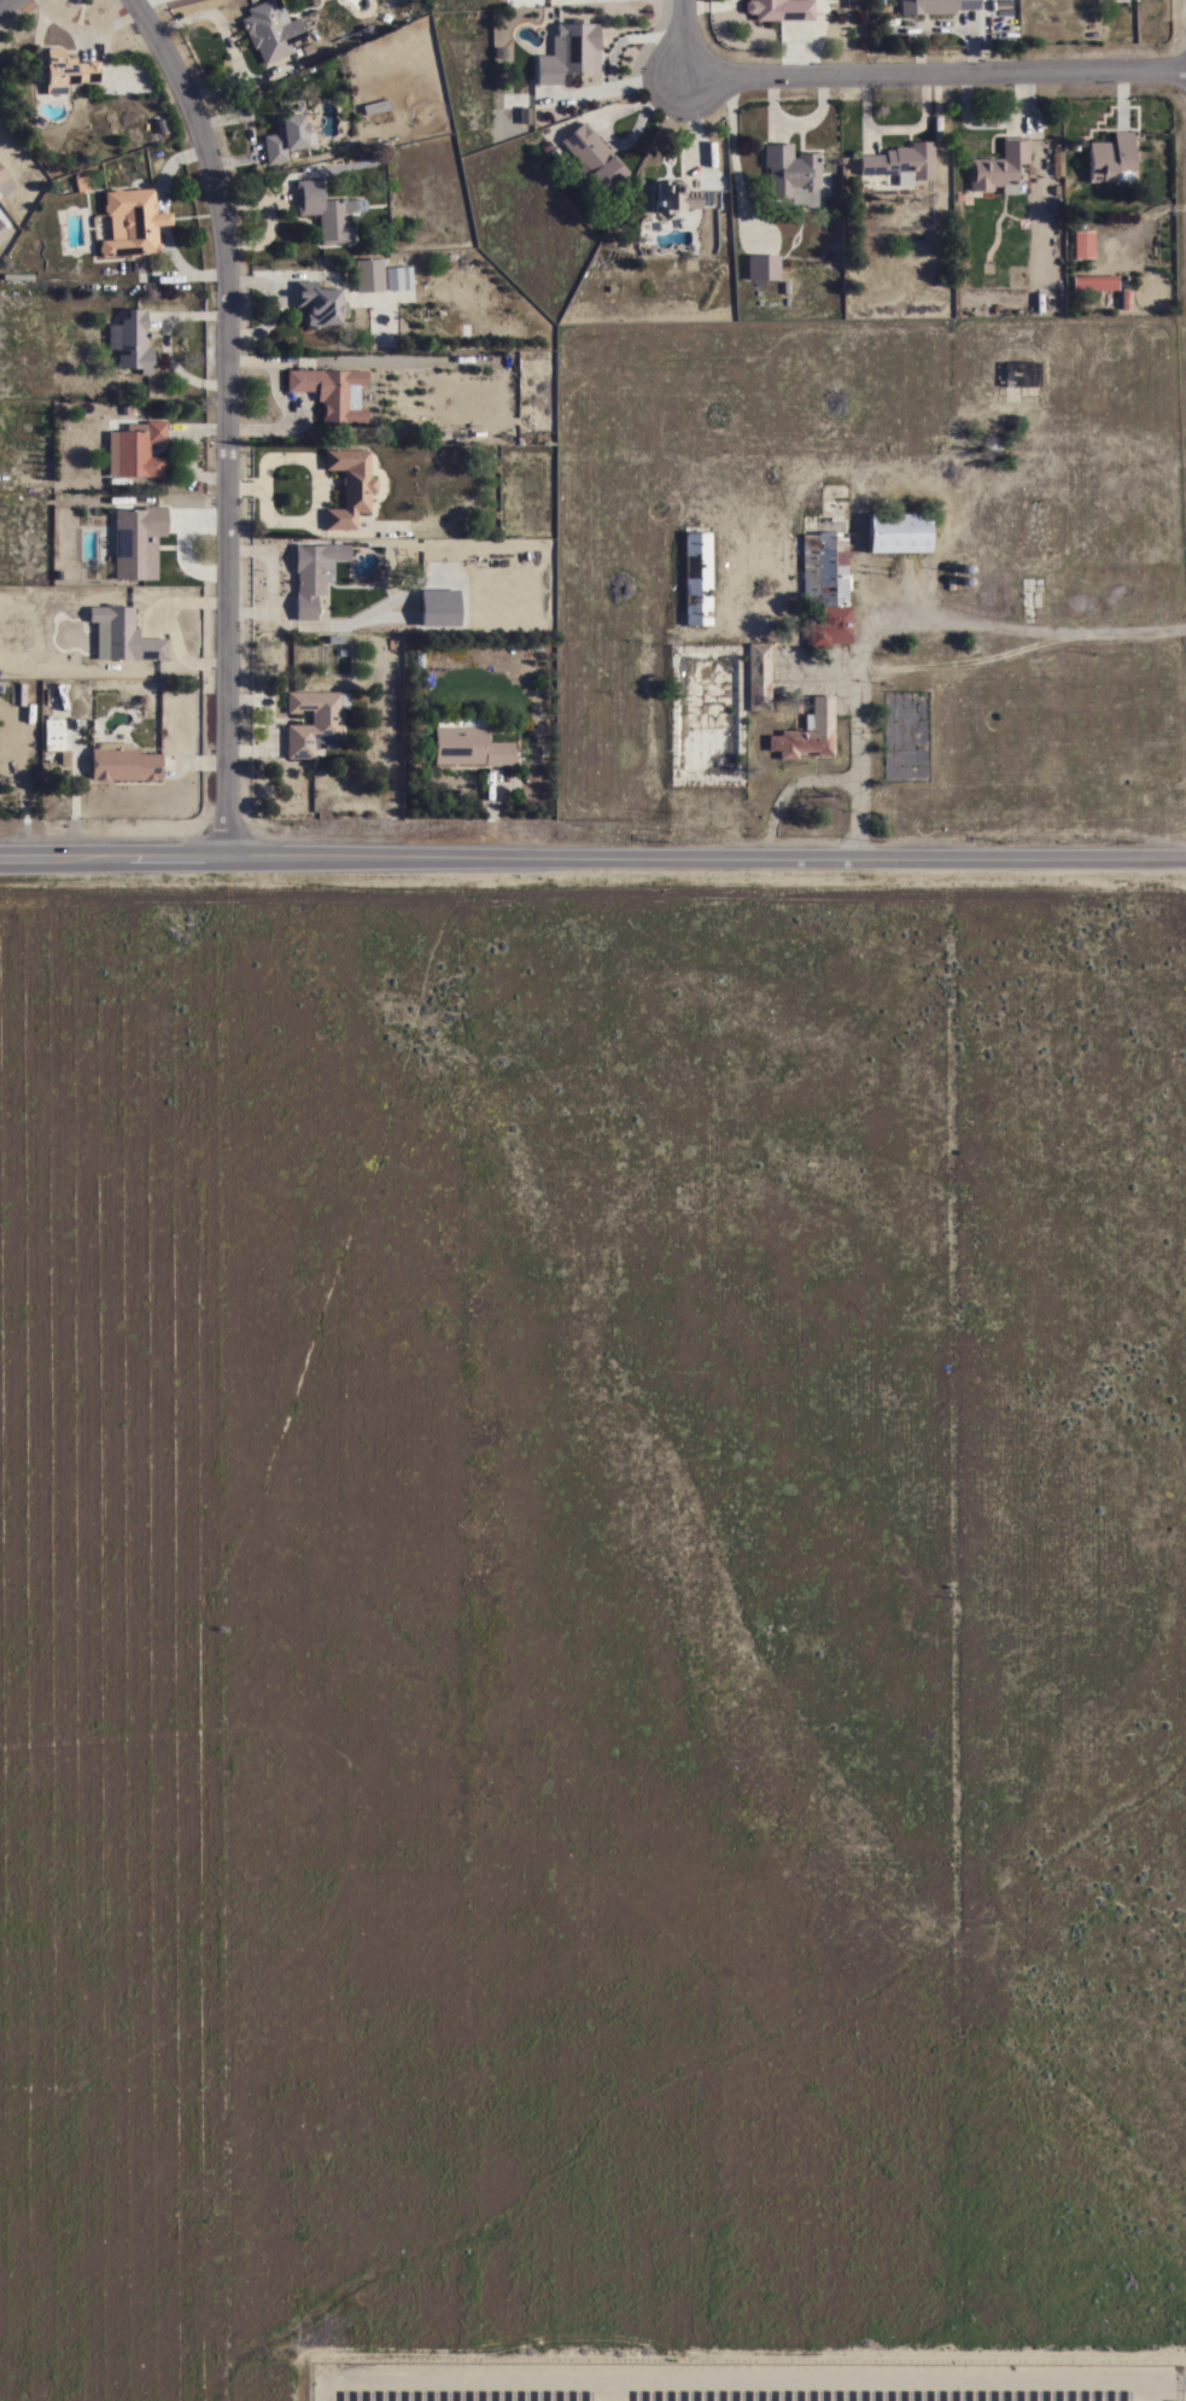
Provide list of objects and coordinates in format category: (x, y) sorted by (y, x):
road: (8, 6)
building: (935, 6)
building: (779, 10)
building: (270, 30)
road: (685, 39)
building: (568, 52)
building: (64, 71)
road: (936, 75)
building: (375, 106)
road: (612, 113)
building: (524, 116)
building: (286, 138)
building: (591, 157)
building: (1110, 158)
building: (900, 163)
building: (1058, 164)
building: (999, 167)
building: (791, 174)
building: (2, 175)
building: (673, 197)
building: (325, 211)
building: (132, 222)
building: (2, 230)
building: (1082, 244)
building: (763, 268)
building: (368, 275)
building: (393, 279)
building: (1094, 282)
building: (319, 304)
building: (130, 341)
building: (332, 392)
road: (226, 419)
building: (135, 450)
building: (349, 486)
building: (898, 532)
building: (136, 542)
building: (823, 568)
building: (314, 574)
building: (376, 577)
building: (696, 577)
building: (438, 608)
building: (829, 626)
building: (122, 636)
building: (758, 677)
building: (314, 722)
building: (807, 732)
building: (53, 735)
building: (468, 743)
building: (123, 763)
road: (592, 859)
solar farm: (740, 2382)

